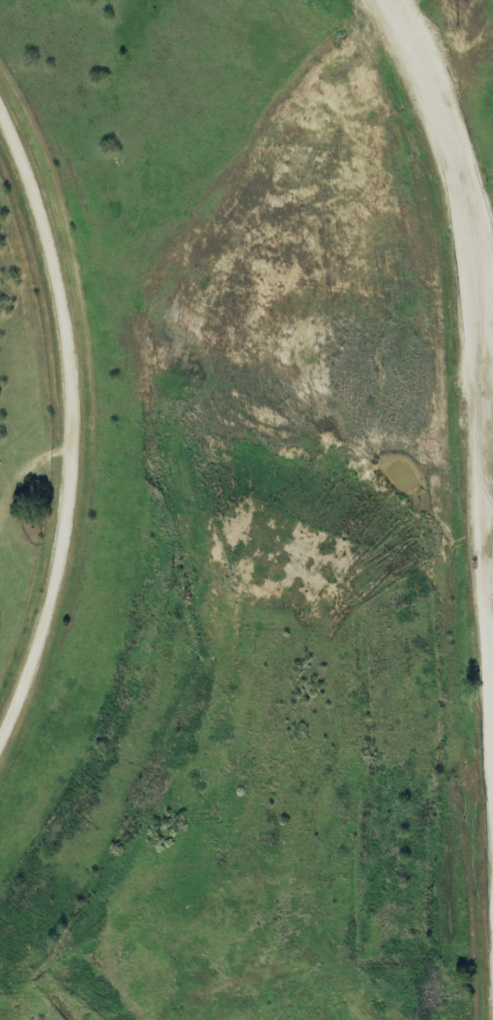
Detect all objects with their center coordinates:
road: (468, 198)
road: (72, 428)

